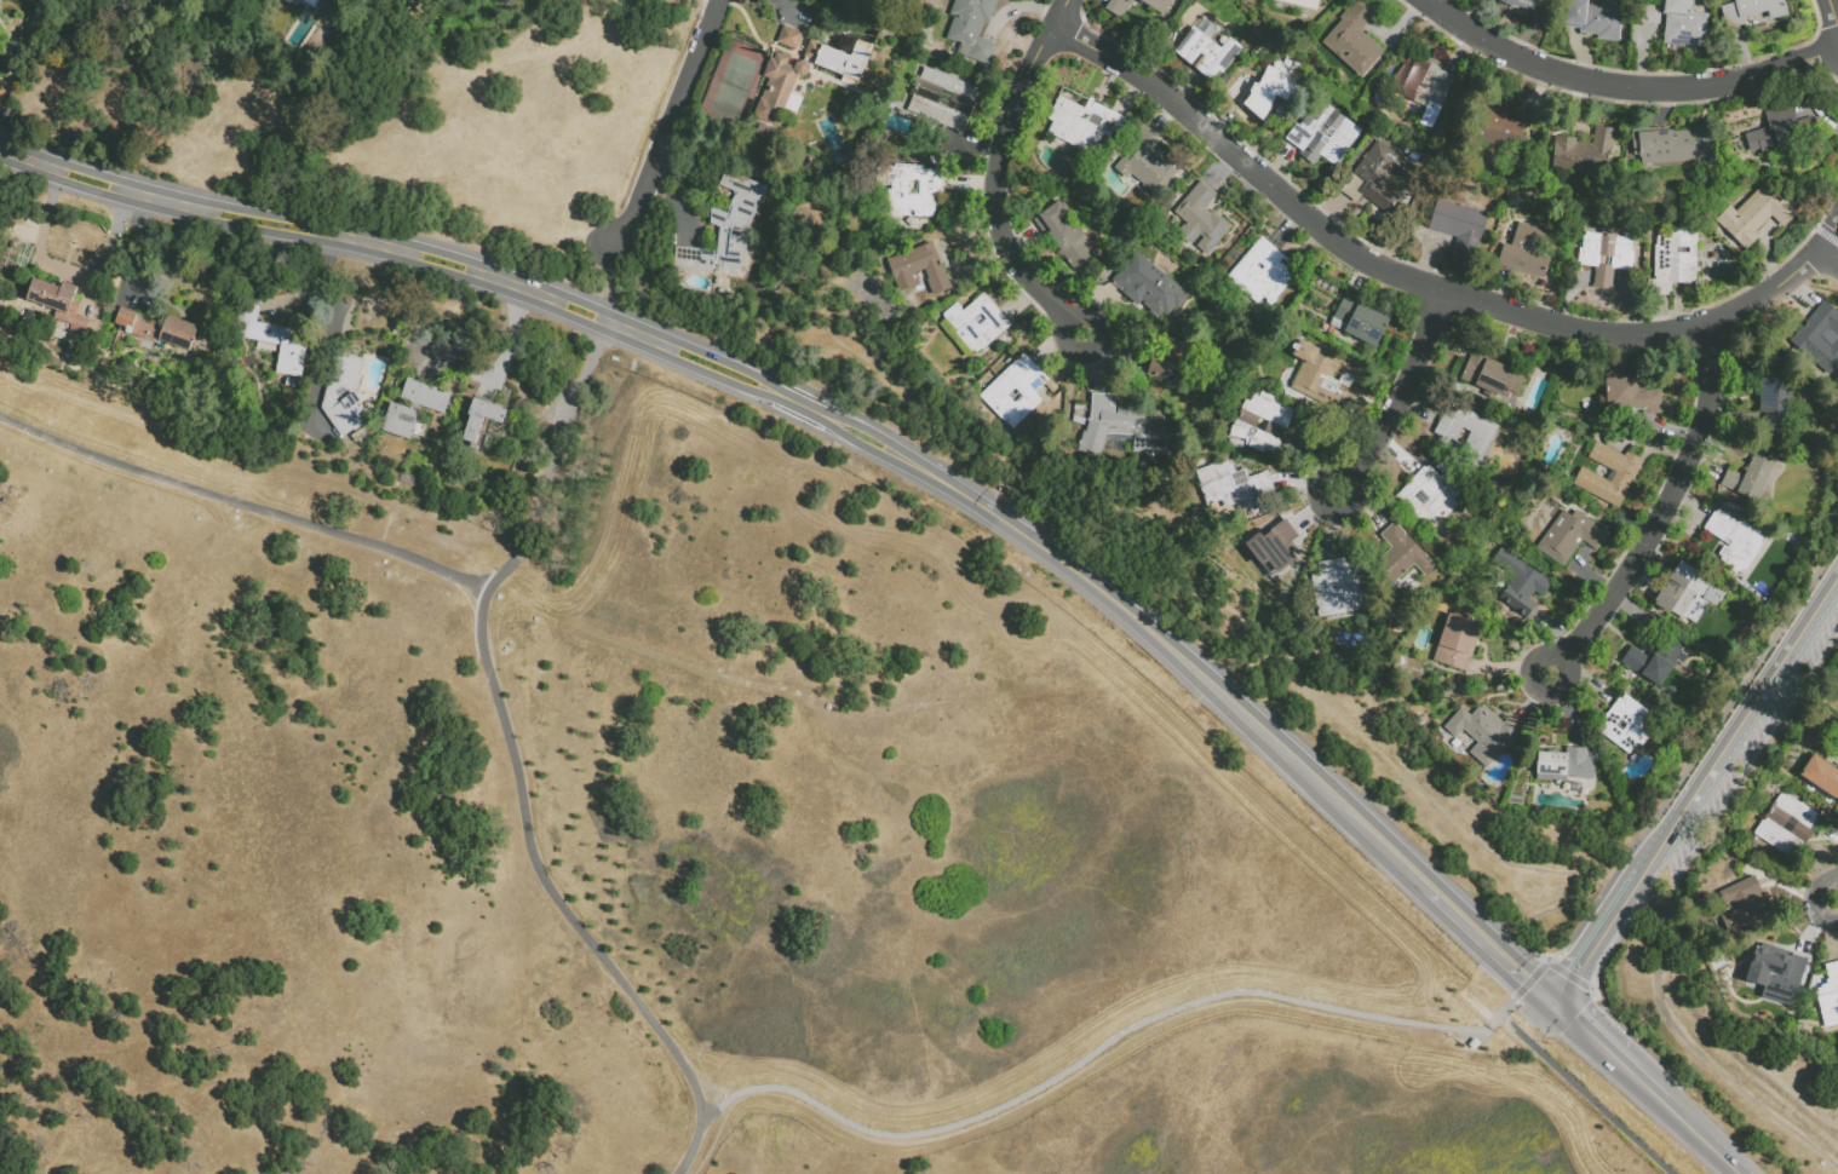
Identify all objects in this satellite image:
building: (287, 1)
building: (311, 2)
building: (1302, 4)
road: (1836, 4)
building: (1156, 5)
building: (1526, 5)
building: (326, 6)
building: (1119, 7)
building: (1752, 11)
road: (1459, 12)
building: (1650, 16)
building: (1595, 19)
building: (1684, 24)
building: (971, 28)
building: (1354, 41)
building: (10, 44)
building: (1207, 54)
building: (1281, 62)
building: (804, 74)
road: (1621, 86)
building: (1425, 91)
building: (1264, 92)
building: (869, 97)
building: (940, 105)
building: (891, 109)
road: (667, 122)
park: (412, 123)
building: (1084, 126)
building: (1497, 126)
building: (1780, 133)
building: (1322, 136)
building: (1671, 146)
building: (1585, 154)
road: (29, 159)
road: (1436, 159)
building: (1148, 166)
building: (1748, 171)
road: (90, 172)
road: (998, 175)
building: (1378, 179)
road: (85, 188)
road: (121, 188)
road: (136, 191)
building: (912, 191)
road: (178, 202)
road: (266, 213)
building: (1754, 218)
building: (736, 220)
building: (1201, 221)
building: (1459, 226)
road: (262, 229)
road: (323, 232)
building: (1062, 236)
building: (1498, 237)
building: (1576, 237)
road: (136, 238)
road: (368, 242)
building: (12, 246)
road: (444, 253)
building: (1524, 253)
building: (1606, 258)
road: (1830, 258)
building: (699, 261)
building: (1673, 261)
road: (440, 269)
road: (67, 270)
building: (921, 274)
building: (1263, 275)
road: (610, 277)
road: (501, 282)
road: (1425, 284)
road: (316, 287)
building: (1149, 288)
road: (540, 295)
building: (58, 304)
road: (584, 304)
road: (464, 315)
road: (576, 318)
building: (1178, 321)
building: (1361, 321)
building: (977, 324)
building: (157, 330)
road: (636, 335)
road: (511, 336)
building: (1819, 340)
building: (271, 341)
building: (201, 352)
road: (710, 355)
building: (1171, 363)
road: (705, 370)
building: (986, 373)
building: (1490, 374)
building: (1320, 376)
road: (763, 384)
building: (1153, 387)
road: (810, 391)
road: (1392, 391)
road: (762, 392)
building: (1016, 393)
road: (1072, 393)
building: (344, 397)
building: (1632, 398)
building: (1774, 399)
building: (372, 407)
road: (802, 407)
building: (415, 412)
building: (478, 418)
road: (845, 420)
road: (799, 424)
building: (1262, 425)
building: (1121, 428)
road: (842, 432)
building: (358, 436)
building: (1018, 436)
building: (1464, 436)
road: (888, 443)
building: (482, 445)
road: (883, 454)
road: (555, 462)
building: (1442, 471)
building: (1622, 477)
building: (1750, 479)
building: (1231, 487)
building: (1429, 499)
road: (1660, 513)
building: (1569, 539)
building: (1734, 542)
building: (1271, 554)
building: (1402, 556)
building: (1235, 563)
building: (1518, 585)
building: (1337, 589)
building: (1688, 595)
building: (1457, 644)
road: (484, 655)
road: (1181, 658)
building: (1654, 663)
road: (1486, 684)
road: (1313, 690)
road: (1740, 723)
building: (1626, 725)
building: (1482, 735)
road: (1694, 755)
building: (1558, 769)
building: (1821, 777)
road: (1713, 821)
building: (1786, 827)
parking lot: (1671, 867)
road: (1836, 899)
building: (1741, 904)
road: (1836, 904)
road: (1596, 937)
road: (1488, 946)
road: (1566, 973)
building: (1770, 976)
road: (1529, 979)
road: (1590, 988)
building: (1830, 996)
traffic signals: (1552, 1005)
road: (1506, 1006)
road: (1590, 1040)
building: (1475, 1043)
road: (1092, 1053)
road: (1700, 1054)
road: (1586, 1094)
road: (1682, 1124)

